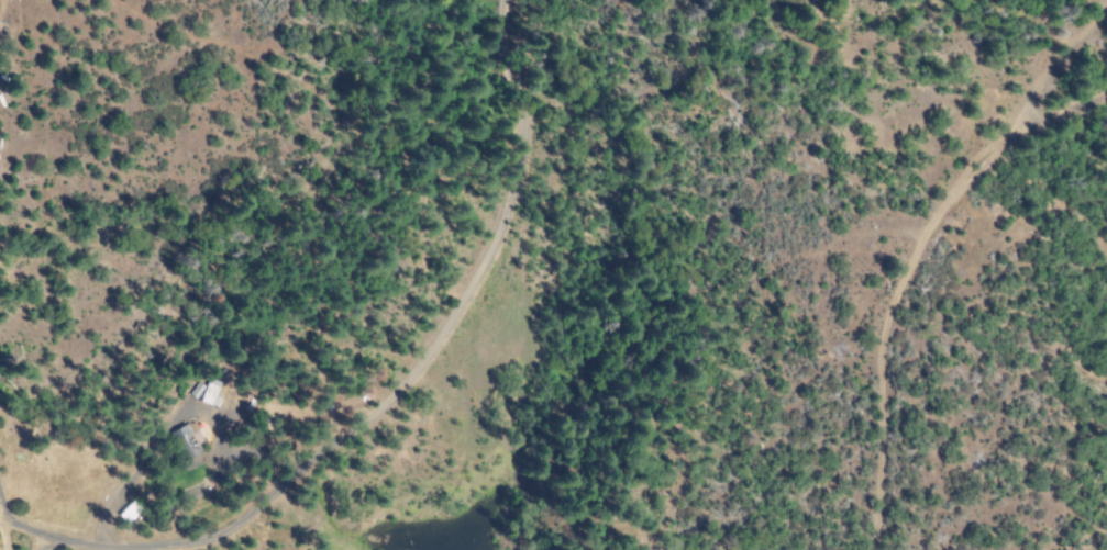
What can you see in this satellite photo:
road: (925, 255)
building: (184, 439)

